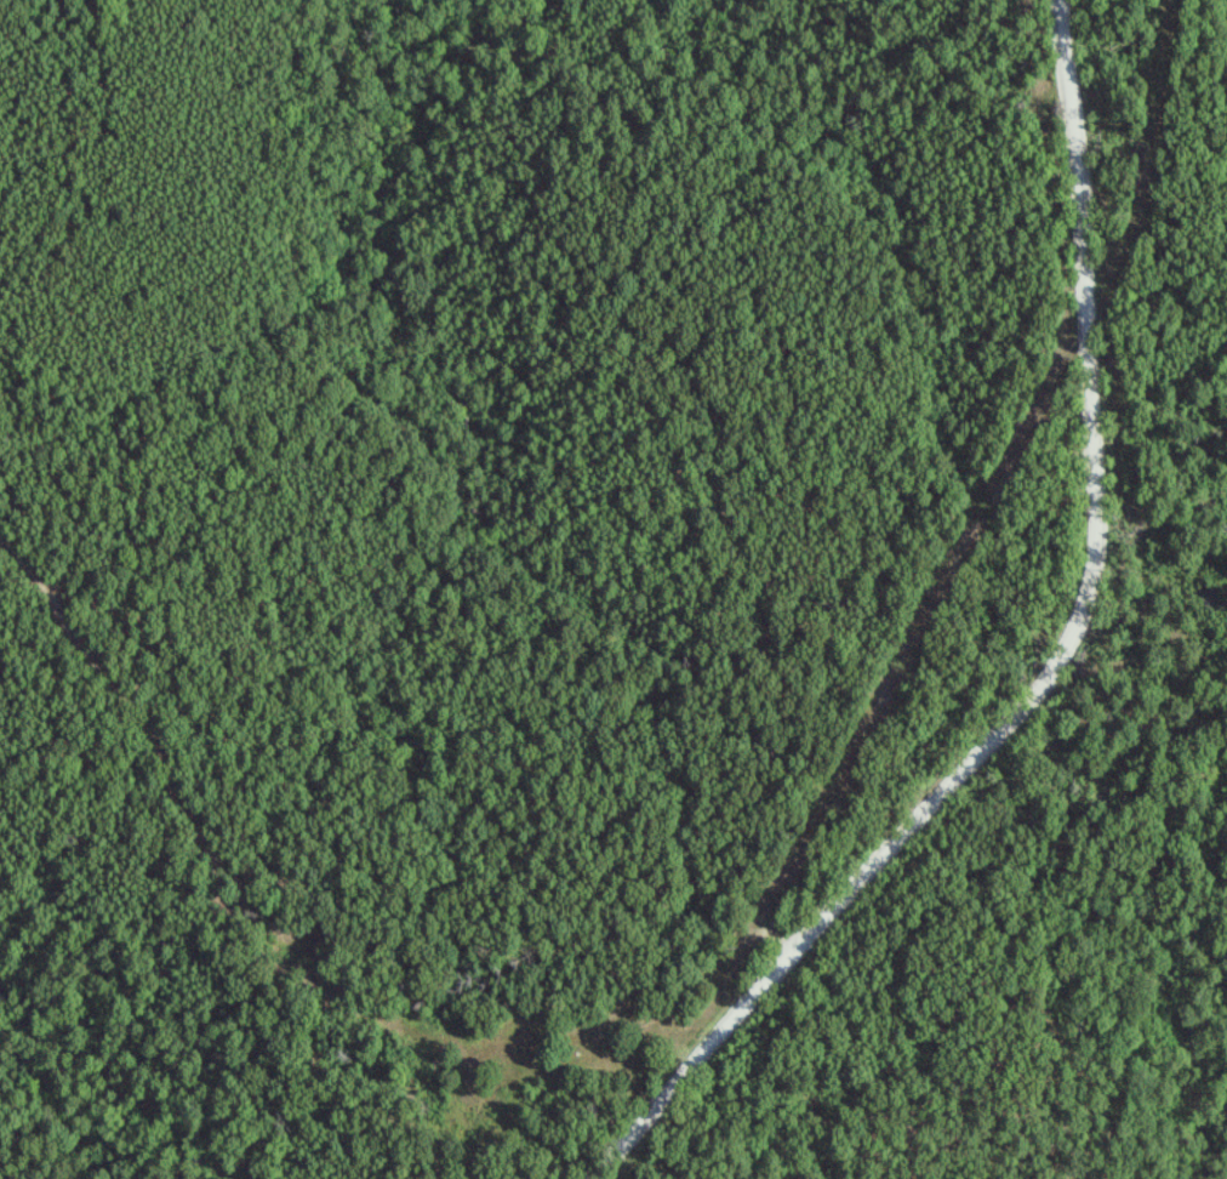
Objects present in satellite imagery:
road: (1058, 666)
road: (280, 912)

